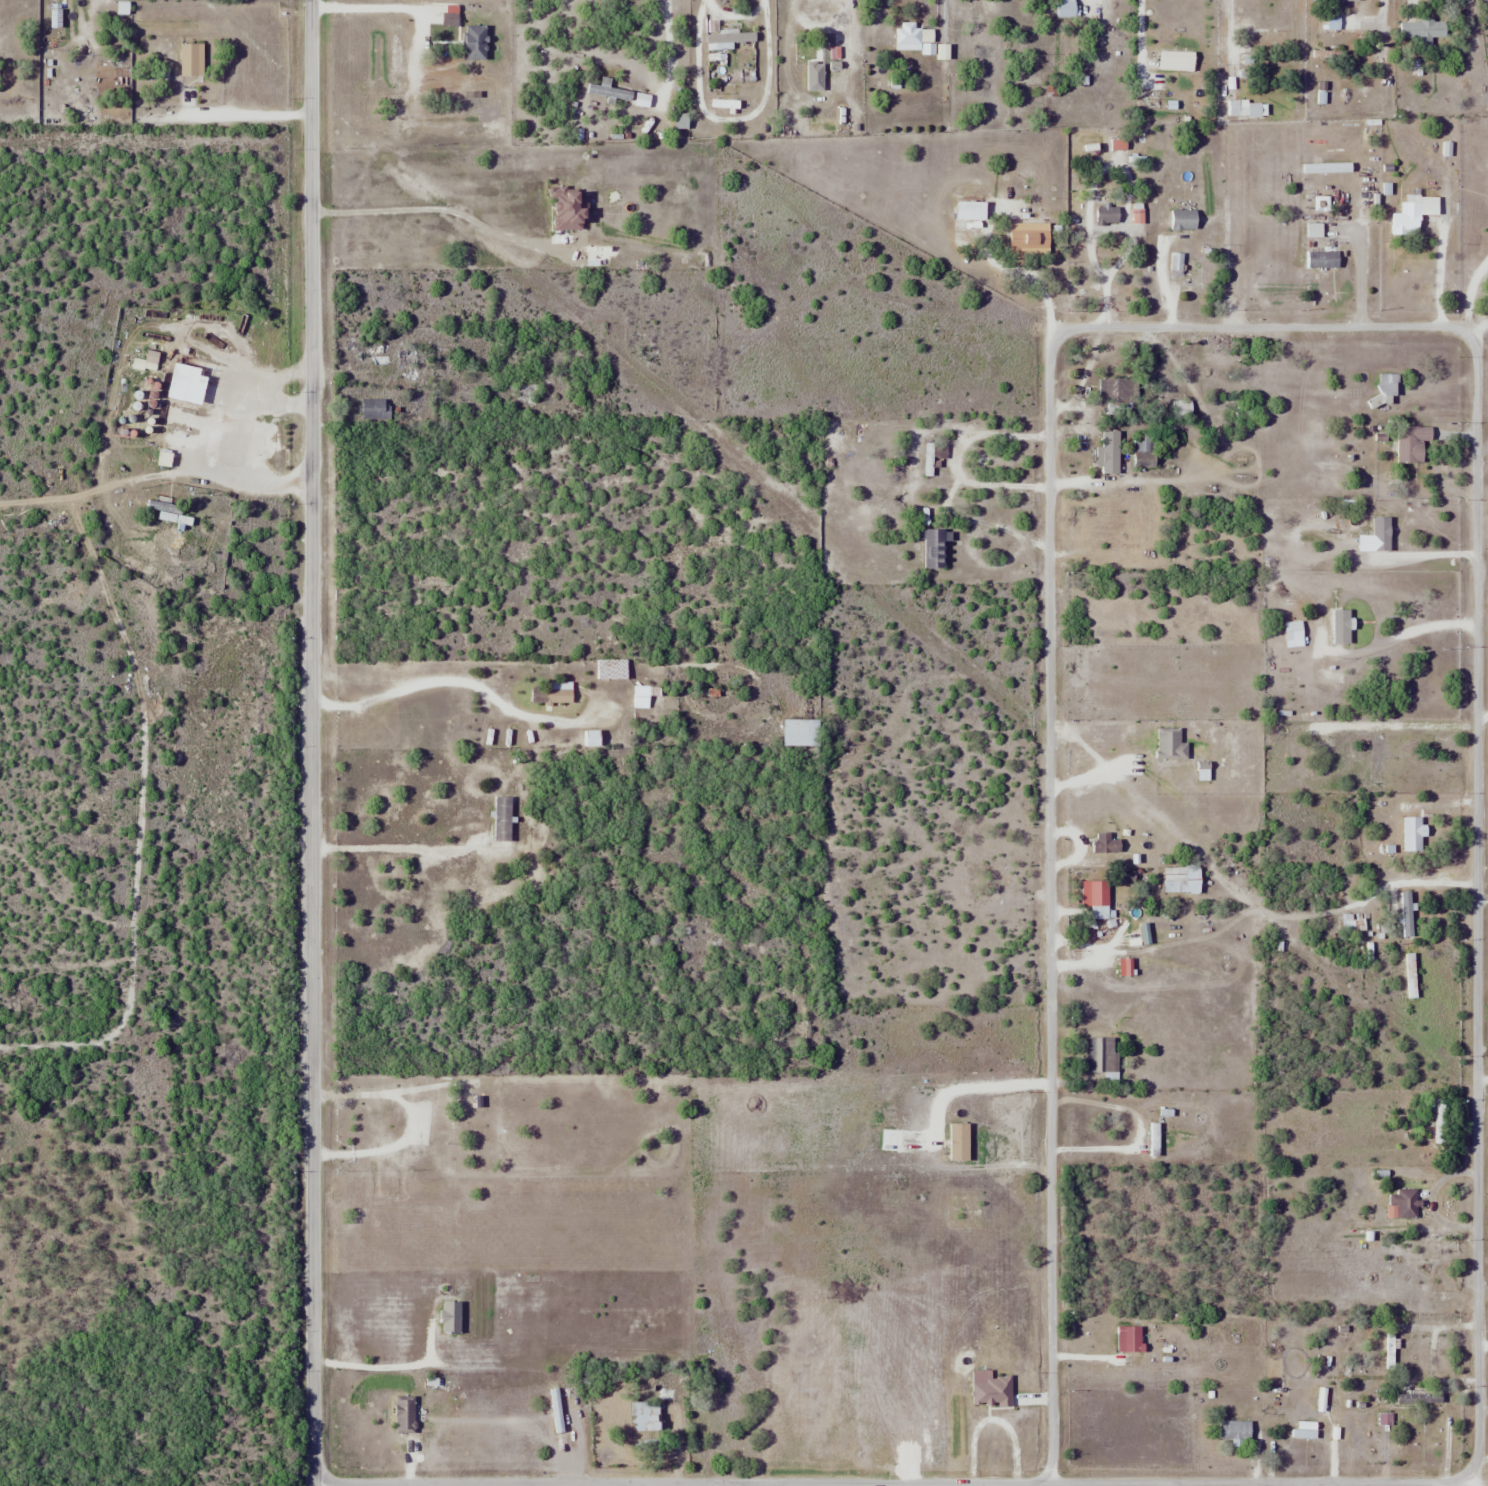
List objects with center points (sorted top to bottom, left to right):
building: (1067, 8)
building: (1423, 30)
building: (728, 34)
building: (911, 37)
building: (476, 42)
building: (817, 53)
building: (192, 59)
building: (443, 74)
building: (620, 87)
building: (1248, 108)
road: (1130, 177)
building: (970, 210)
building: (1414, 213)
building: (1184, 220)
building: (1030, 238)
building: (1322, 259)
road: (1441, 262)
road: (1362, 265)
road: (1473, 294)
road: (1261, 327)
road: (1478, 328)
building: (407, 357)
building: (1116, 390)
building: (193, 394)
building: (376, 409)
building: (1183, 410)
building: (1412, 442)
road: (1482, 443)
building: (1145, 450)
building: (1111, 451)
building: (933, 458)
building: (174, 518)
building: (935, 548)
building: (612, 669)
building: (644, 696)
road: (1482, 710)
building: (801, 732)
building: (1108, 735)
road: (312, 743)
building: (1412, 834)
building: (1182, 880)
road: (1482, 894)
building: (1097, 898)
building: (1407, 914)
building: (1354, 923)
building: (1101, 1054)
building: (1437, 1119)
building: (1155, 1140)
building: (1402, 1204)
building: (658, 1404)
building: (406, 1415)
building: (1235, 1430)
building: (1310, 1434)
road: (890, 1483)
road: (999, 1484)
road: (1441, 1484)
road: (739, 1485)

